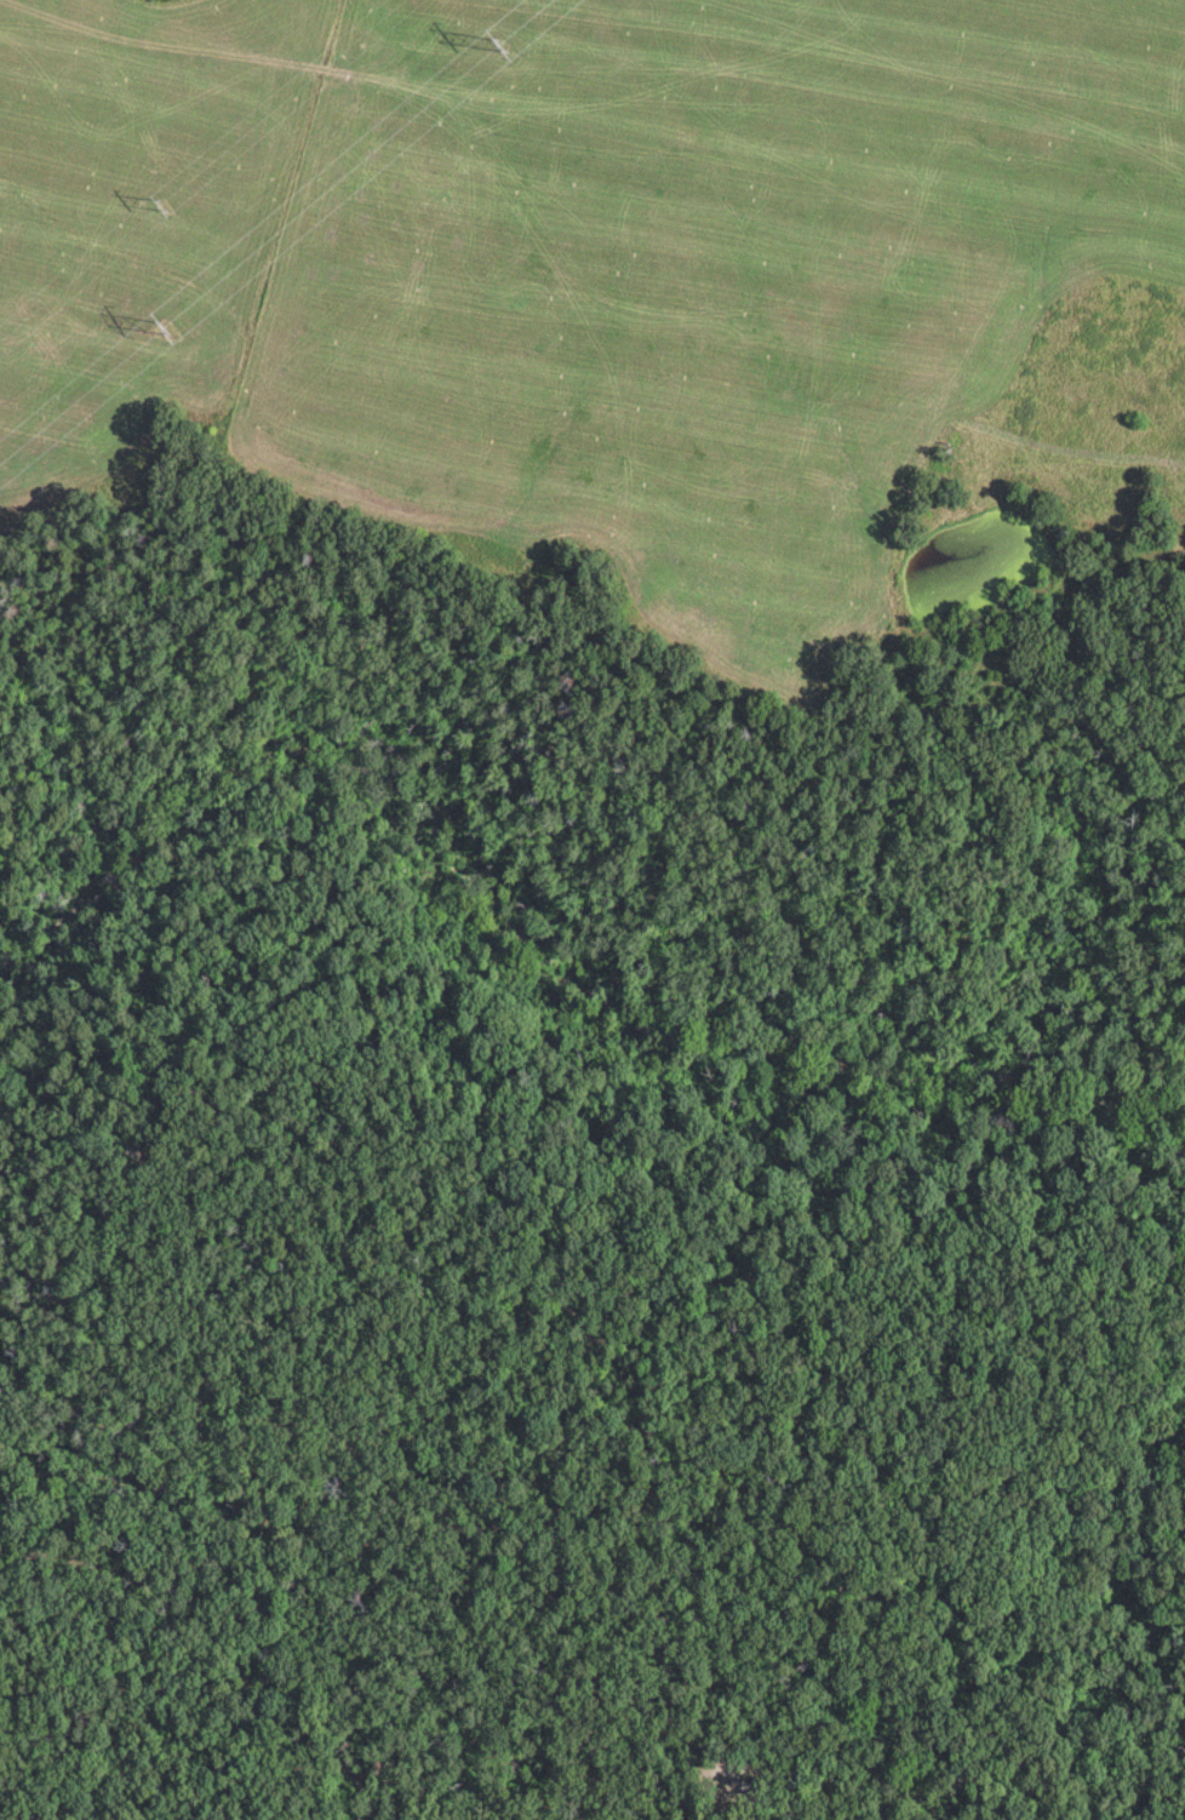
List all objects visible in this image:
power tower: (503, 42)
power tower: (166, 322)

